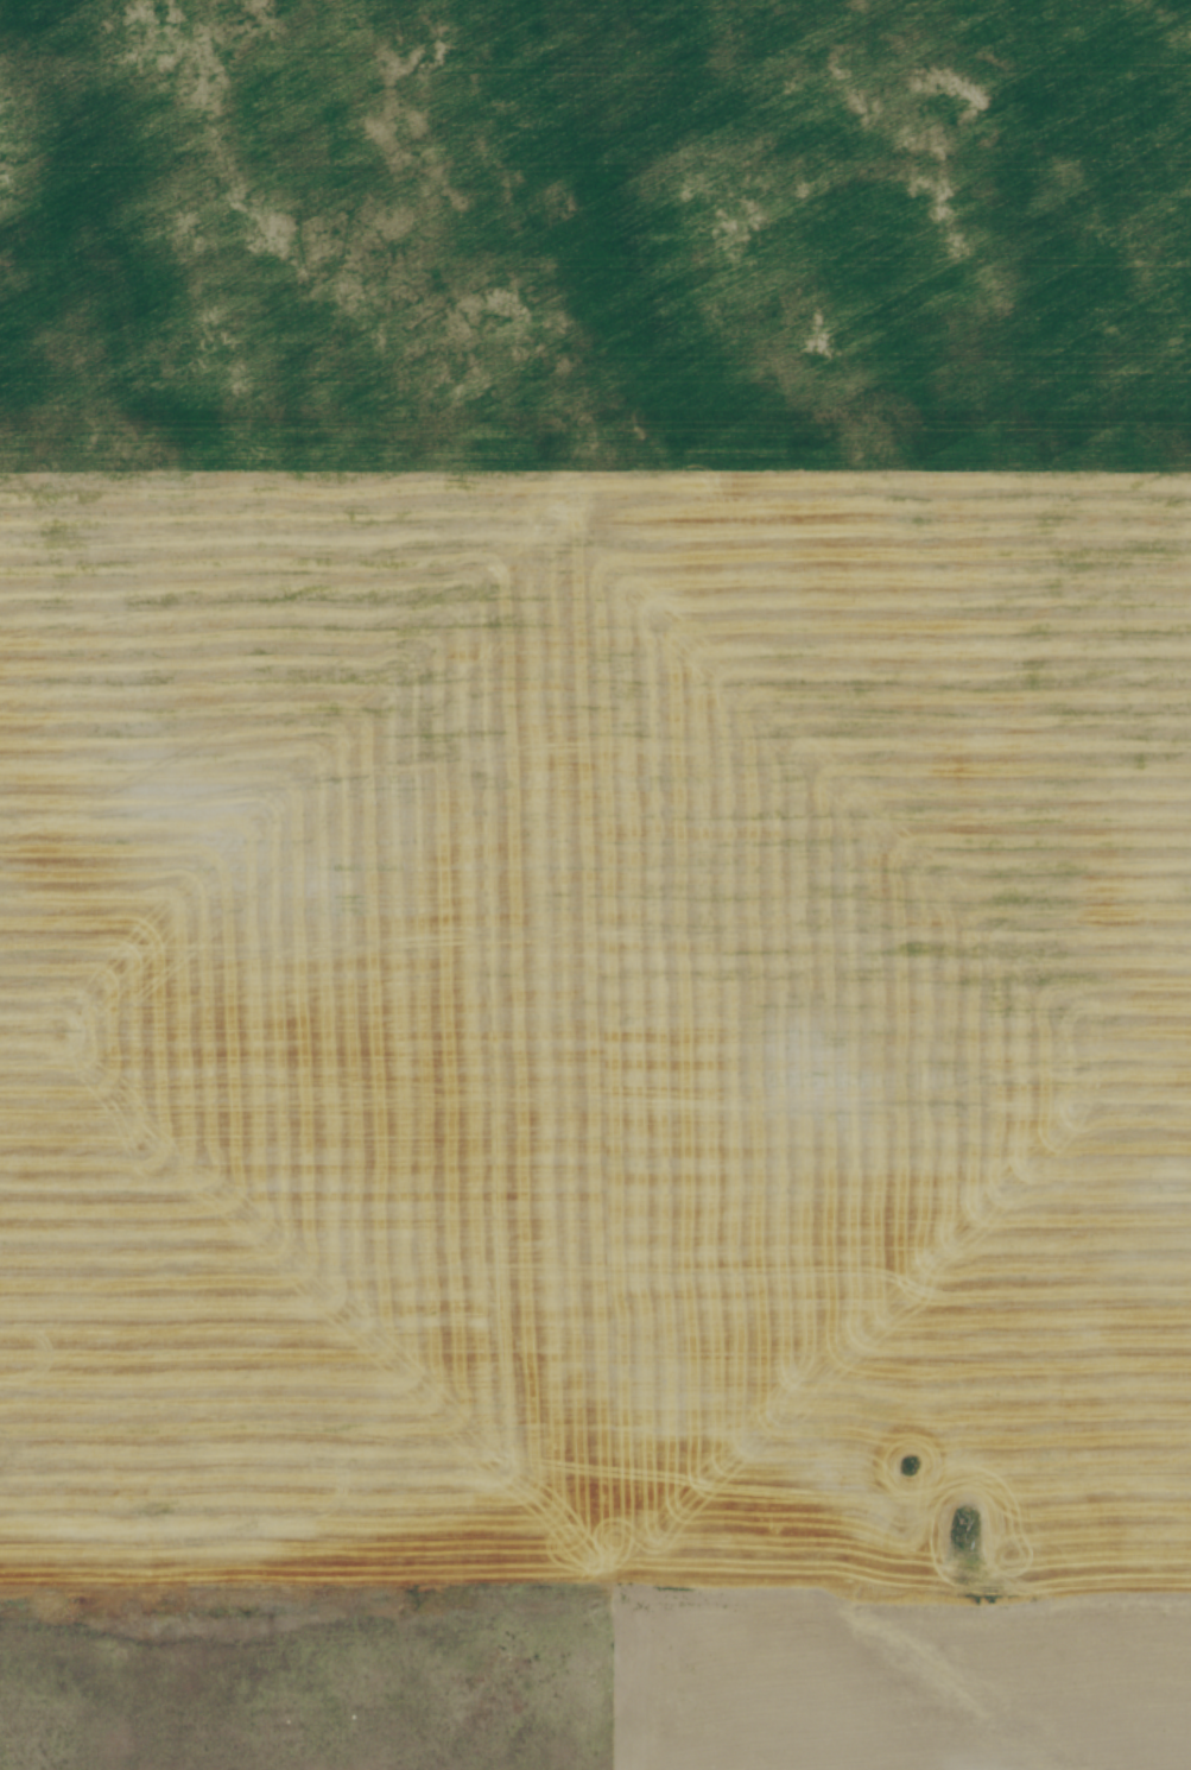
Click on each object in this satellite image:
crop: (612, 837)

